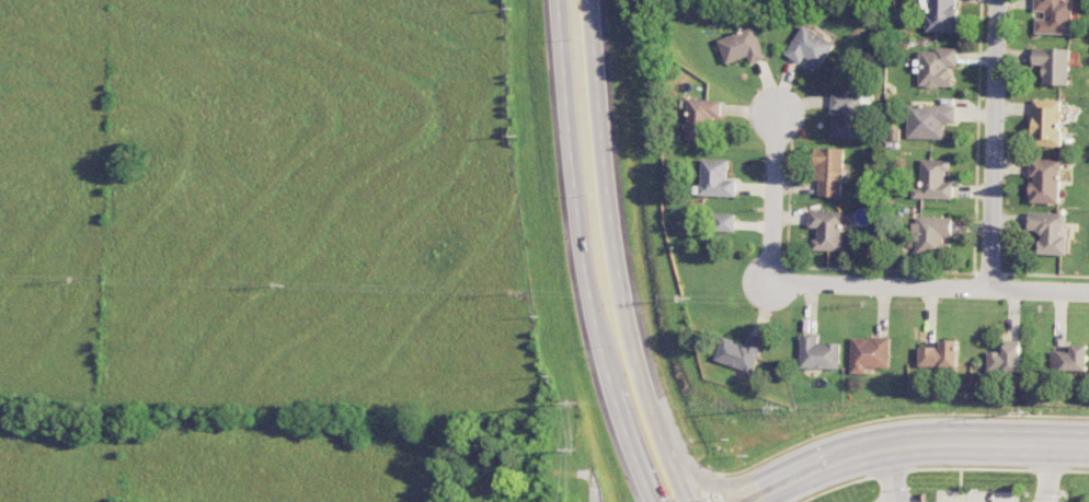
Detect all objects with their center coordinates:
building: (941, 14)
building: (1054, 16)
building: (743, 46)
building: (810, 48)
building: (1052, 65)
building: (937, 67)
building: (847, 115)
building: (701, 116)
building: (929, 120)
building: (1046, 122)
road: (993, 143)
building: (829, 171)
building: (715, 178)
building: (933, 180)
building: (1044, 180)
road: (775, 184)
building: (724, 222)
building: (829, 227)
building: (1048, 231)
building: (932, 233)
road: (580, 255)
road: (617, 255)
road: (929, 287)
building: (741, 352)
building: (819, 353)
building: (870, 353)
building: (940, 354)
building: (1005, 358)
building: (1069, 359)
power tower: (576, 402)
power tower: (779, 408)
power tower: (1029, 412)
road: (909, 447)
power tower: (574, 451)
road: (772, 466)
road: (1045, 474)
road: (887, 476)
road: (776, 490)

